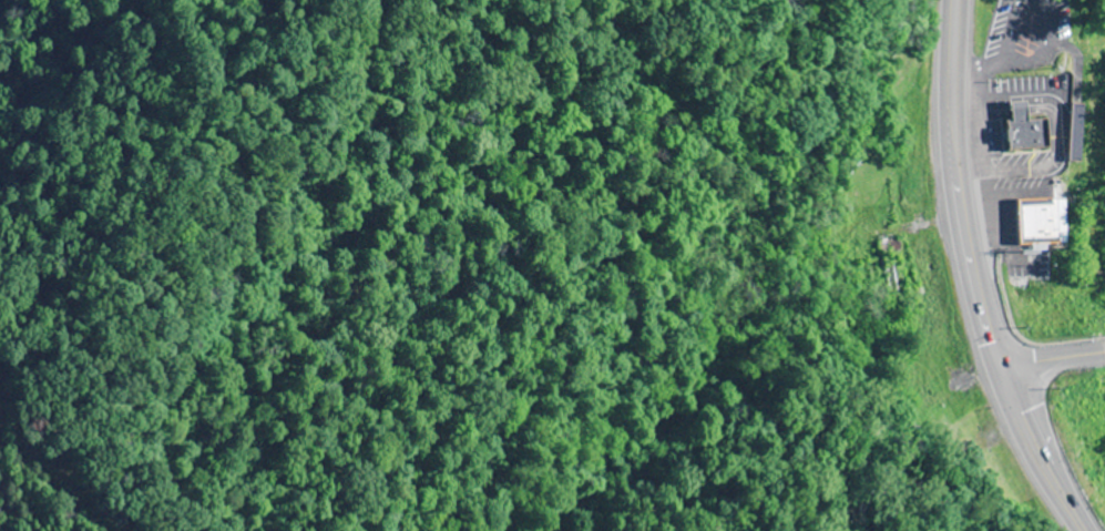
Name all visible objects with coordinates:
building: (1024, 135)
building: (1037, 222)
building: (893, 276)
road: (971, 277)
road: (1103, 350)
road: (1050, 358)

